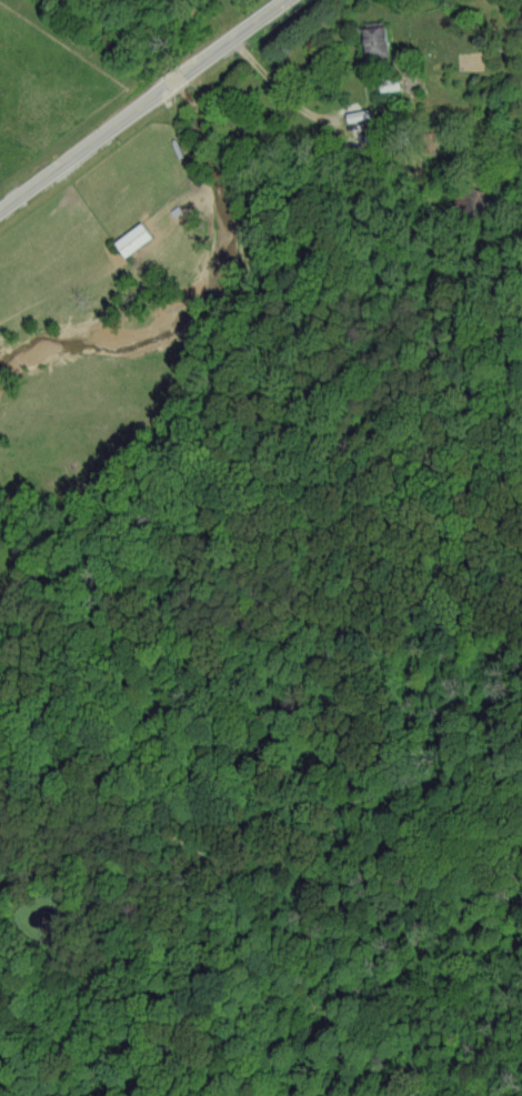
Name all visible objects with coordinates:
building: (375, 40)
road: (287, 92)
road: (139, 99)
building: (133, 239)

